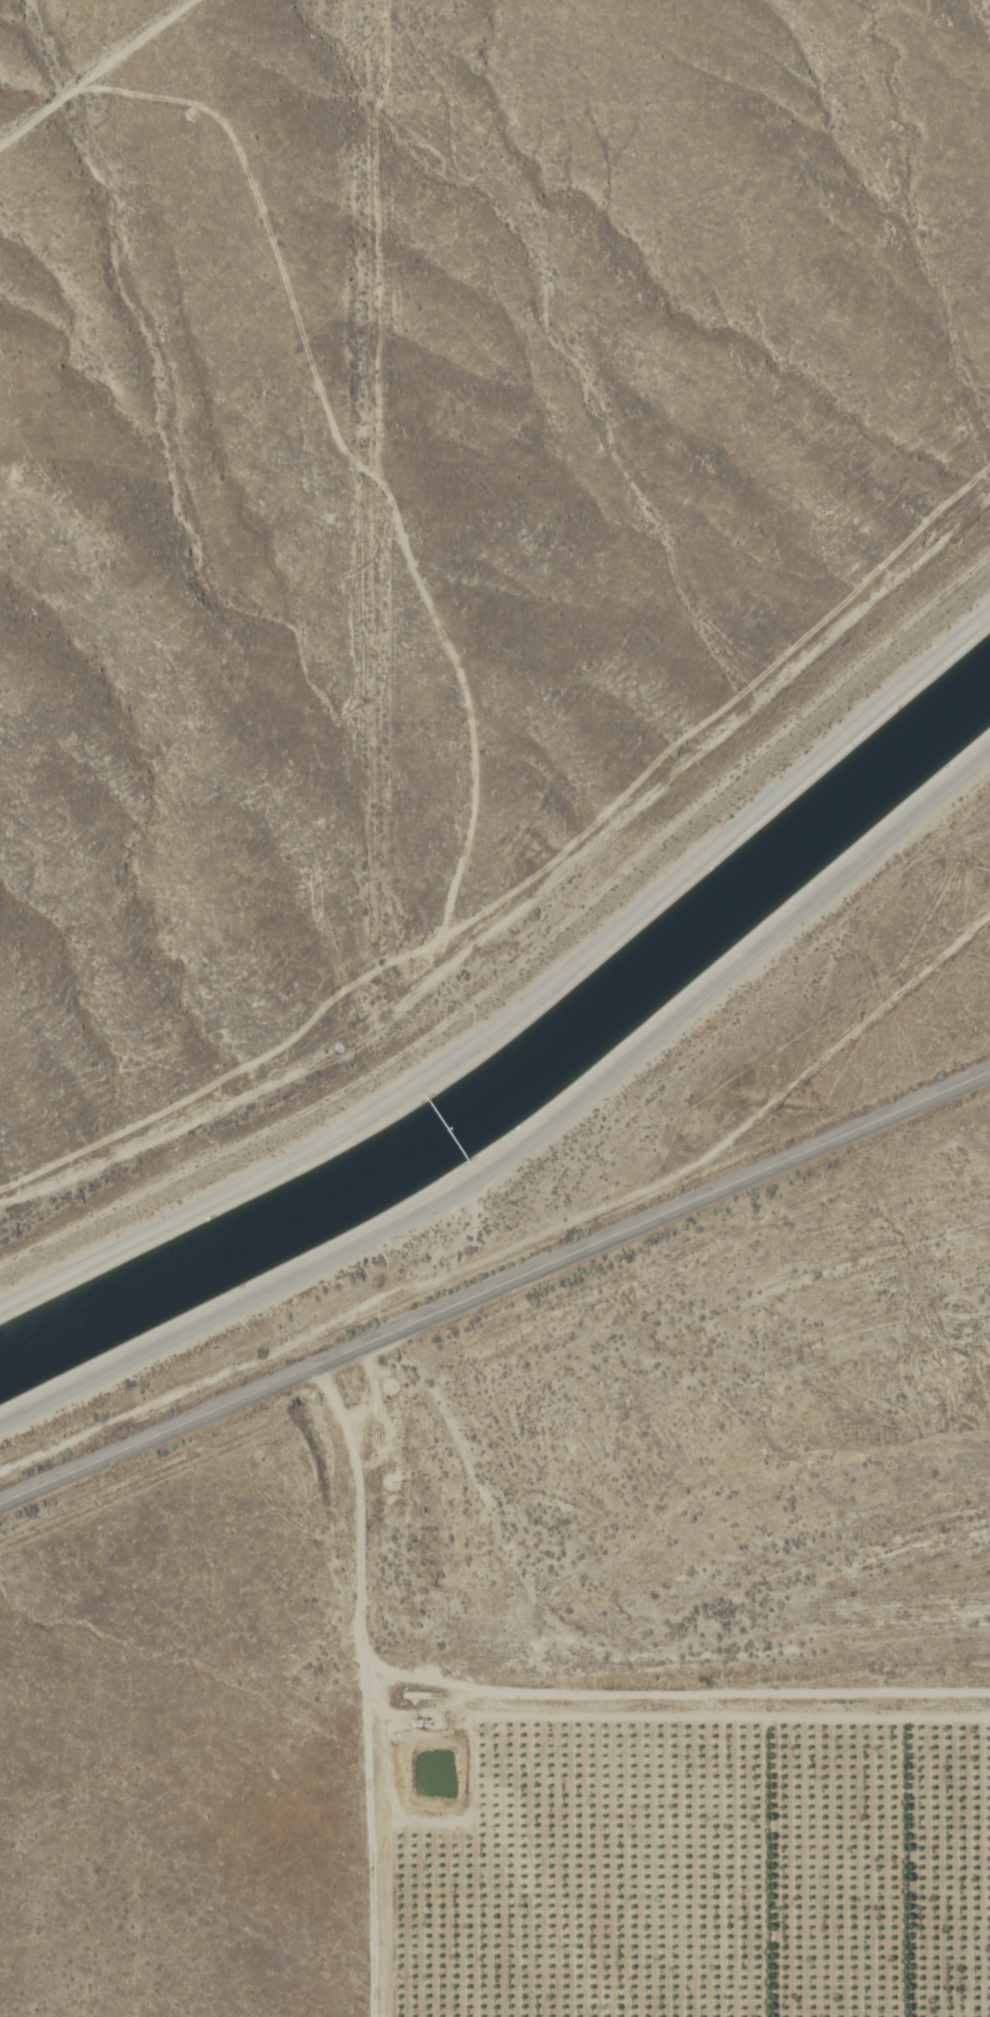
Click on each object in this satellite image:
road: (94, 69)
road: (527, 1003)
road: (718, 1108)
road: (531, 1136)
road: (495, 1287)
road: (521, 1699)
road: (370, 1841)

